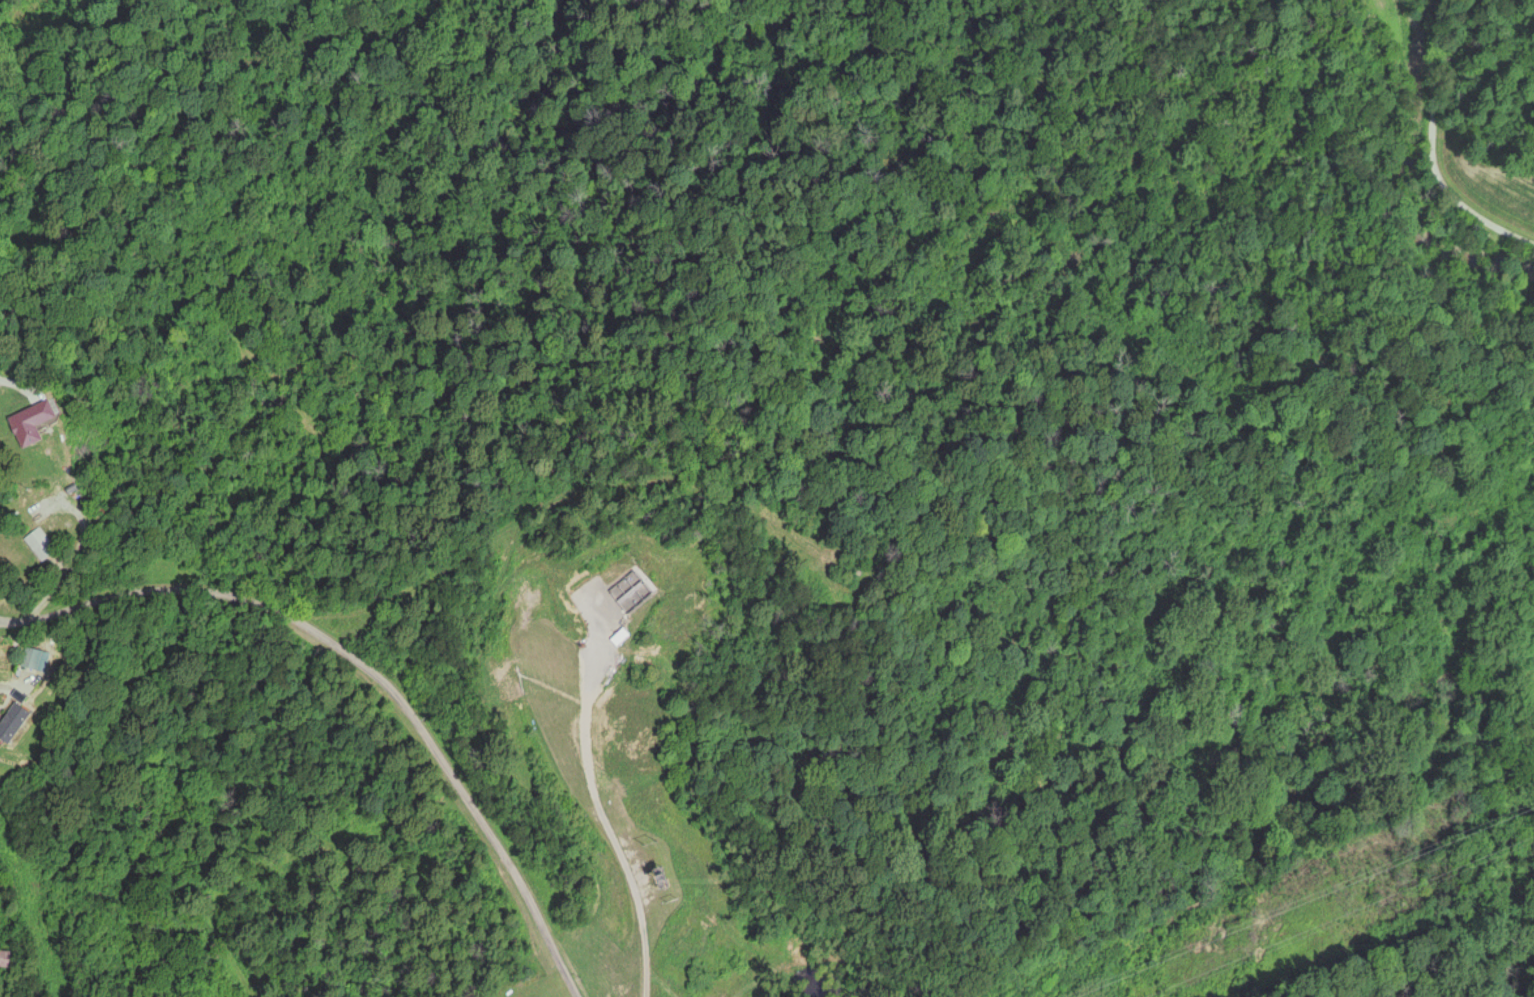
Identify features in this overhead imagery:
road: (1429, 146)
road: (20, 385)
building: (23, 426)
building: (36, 545)
road: (8, 624)
road: (8, 628)
building: (618, 639)
road: (372, 674)
building: (3, 960)

